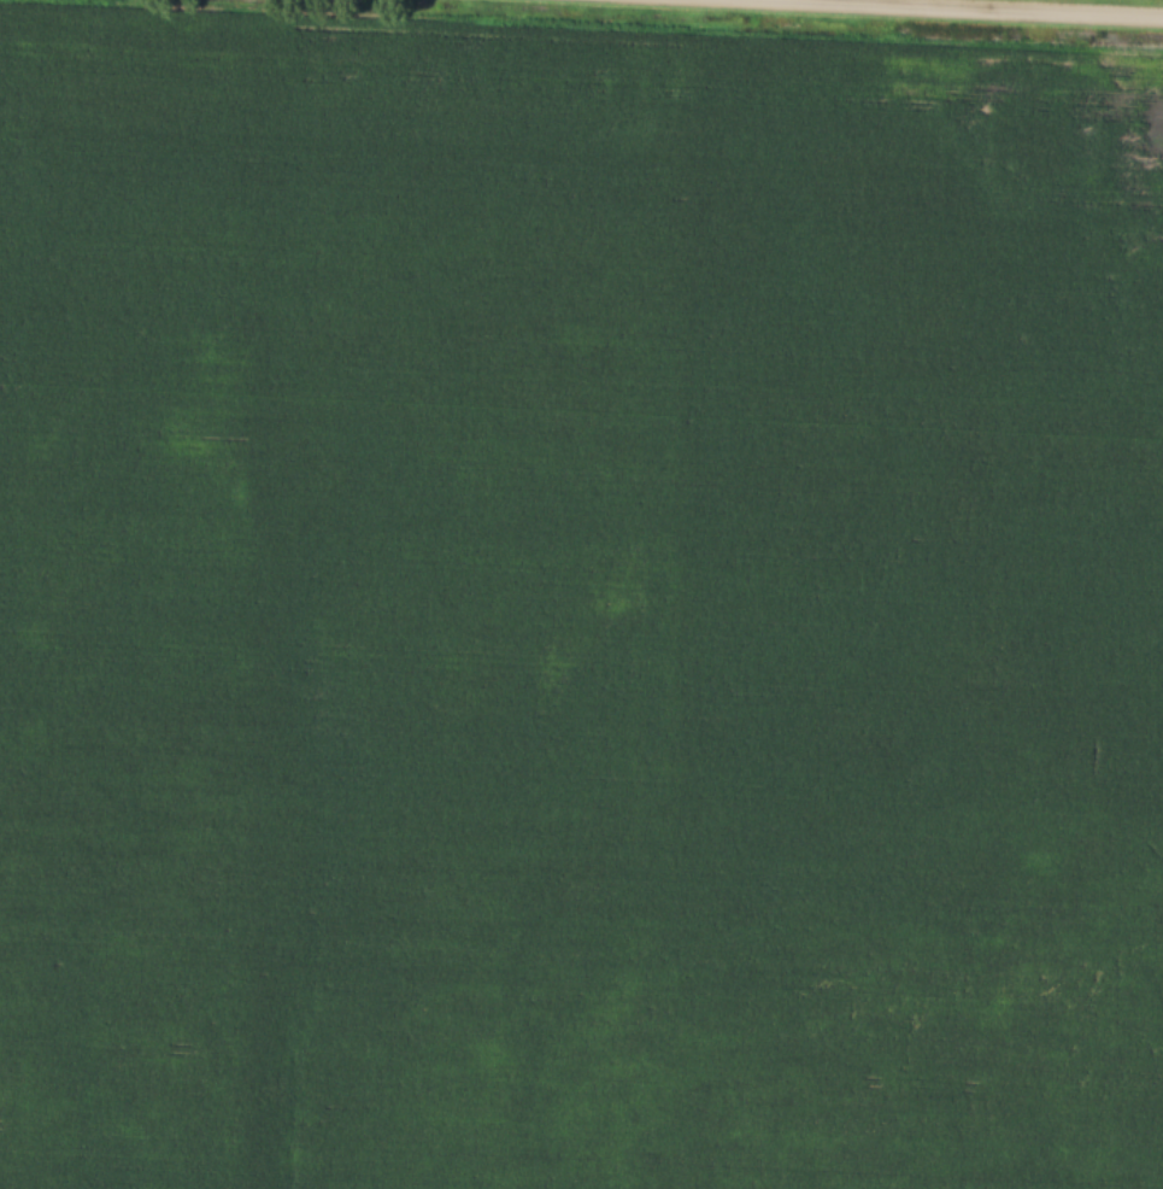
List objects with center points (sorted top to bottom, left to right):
road: (1012, 6)

